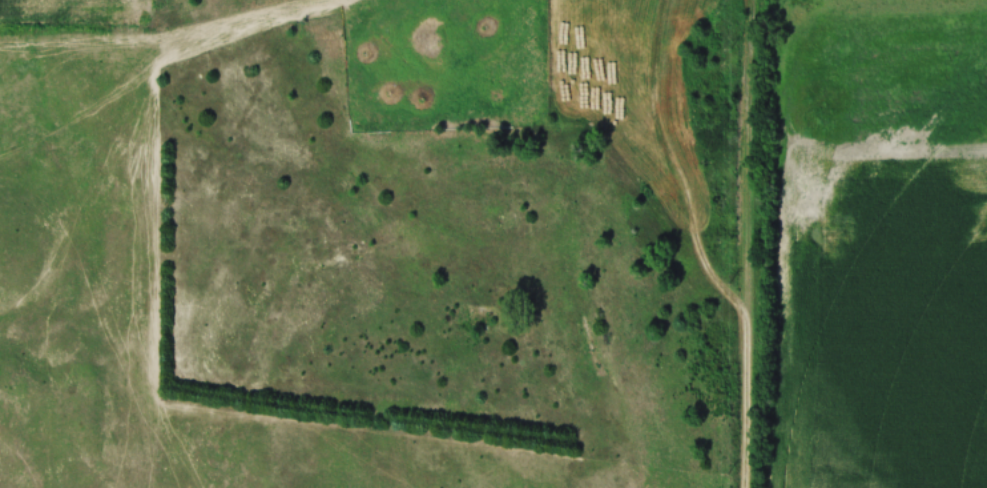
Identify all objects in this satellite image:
road: (746, 243)

